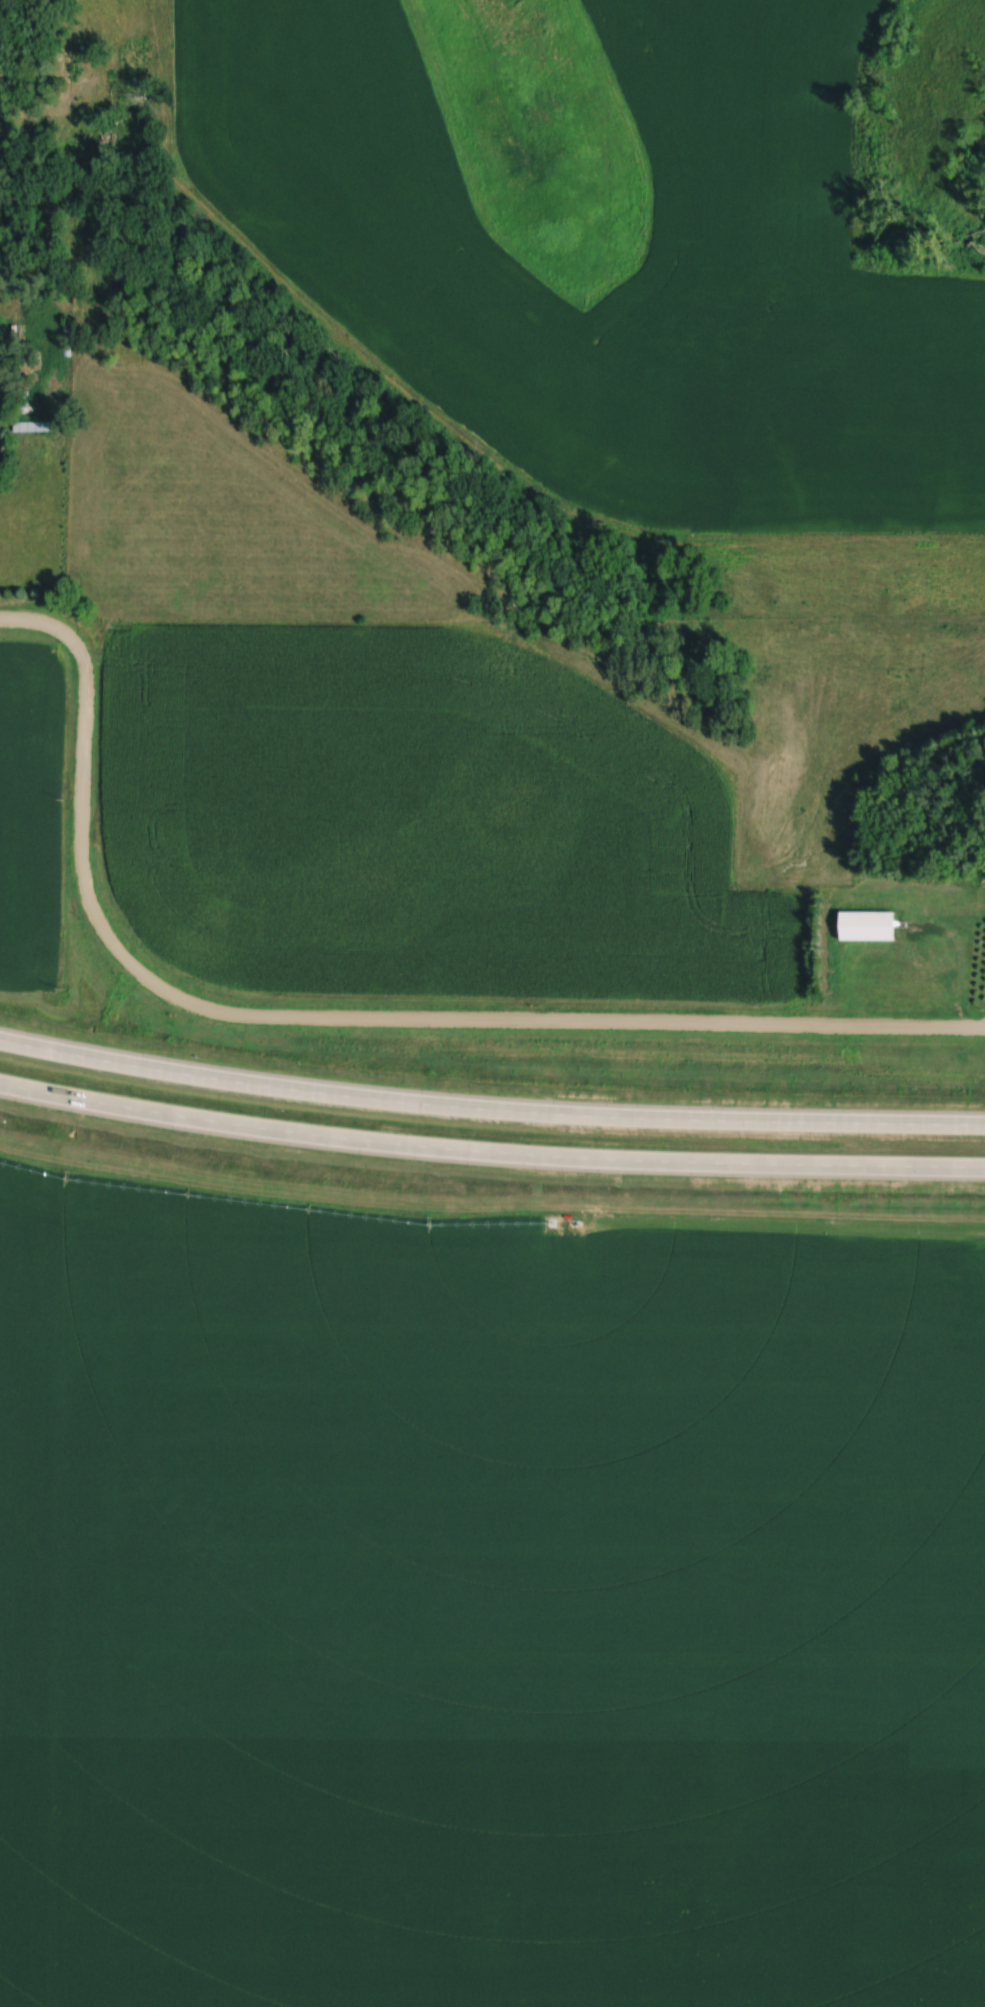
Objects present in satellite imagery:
road: (56, 629)
building: (870, 927)
road: (400, 1019)
road: (490, 1109)
road: (490, 1151)

